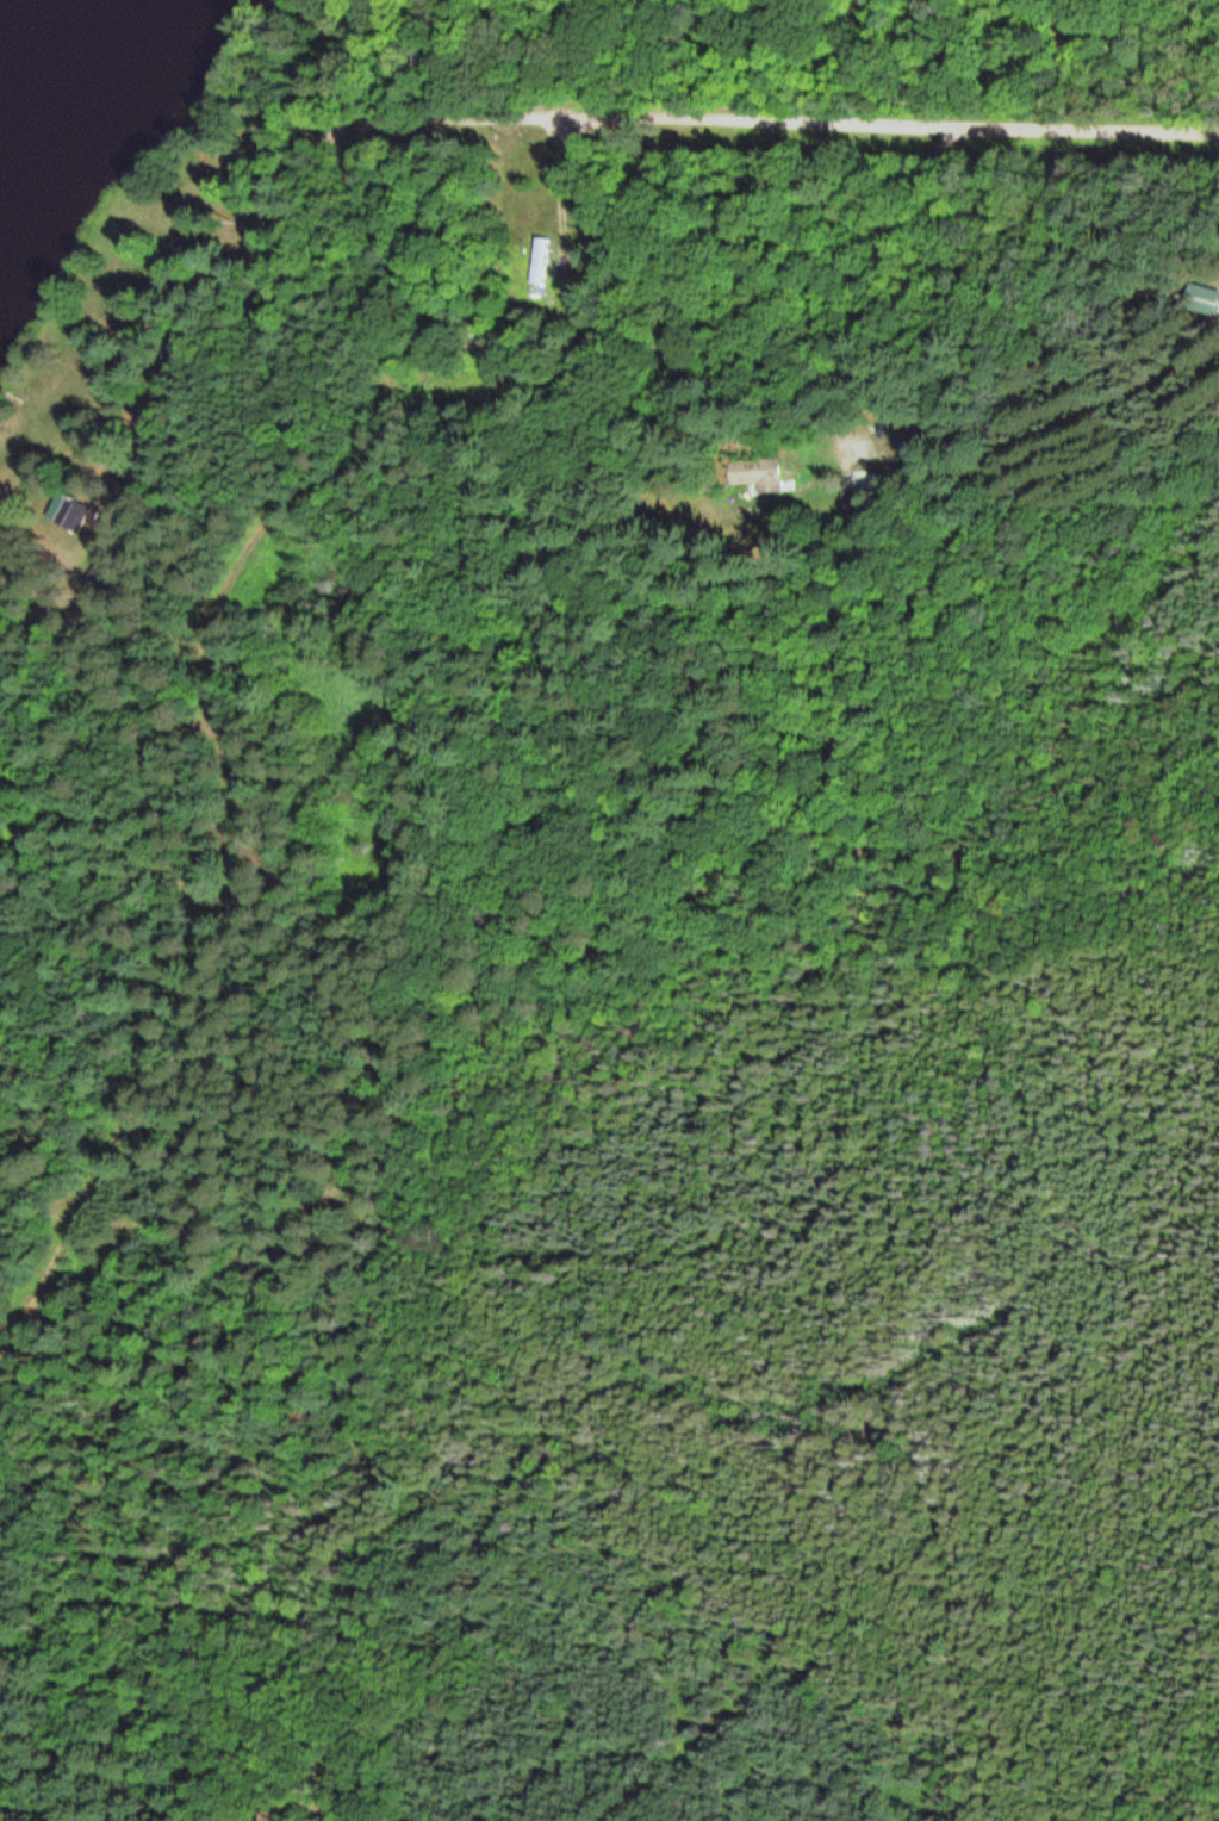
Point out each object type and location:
river: (49, 52)
road: (890, 125)
road: (331, 133)
building: (539, 265)
road: (671, 296)
building: (1204, 298)
building: (757, 472)
building: (70, 511)

